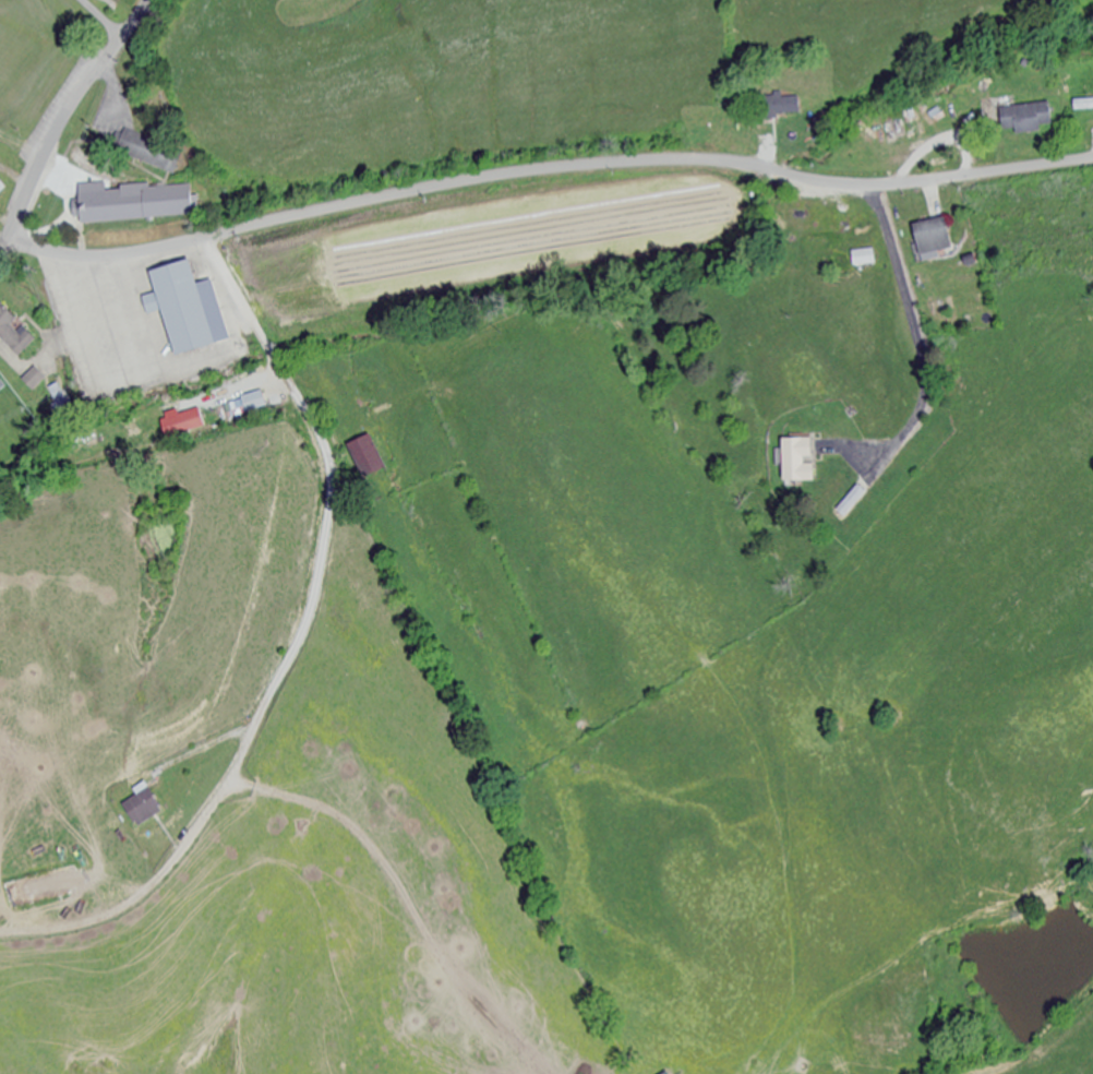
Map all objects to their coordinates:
building: (1083, 105)
building: (782, 108)
road: (75, 110)
building: (1028, 119)
building: (165, 147)
road: (62, 179)
road: (544, 181)
building: (147, 203)
road: (84, 228)
building: (934, 239)
road: (4, 240)
building: (865, 259)
building: (188, 313)
road: (143, 323)
road: (112, 330)
road: (83, 332)
building: (14, 335)
parking lot: (123, 341)
road: (916, 350)
road: (223, 363)
building: (245, 406)
building: (183, 423)
building: (367, 458)
building: (800, 463)
road: (302, 654)
building: (145, 809)

